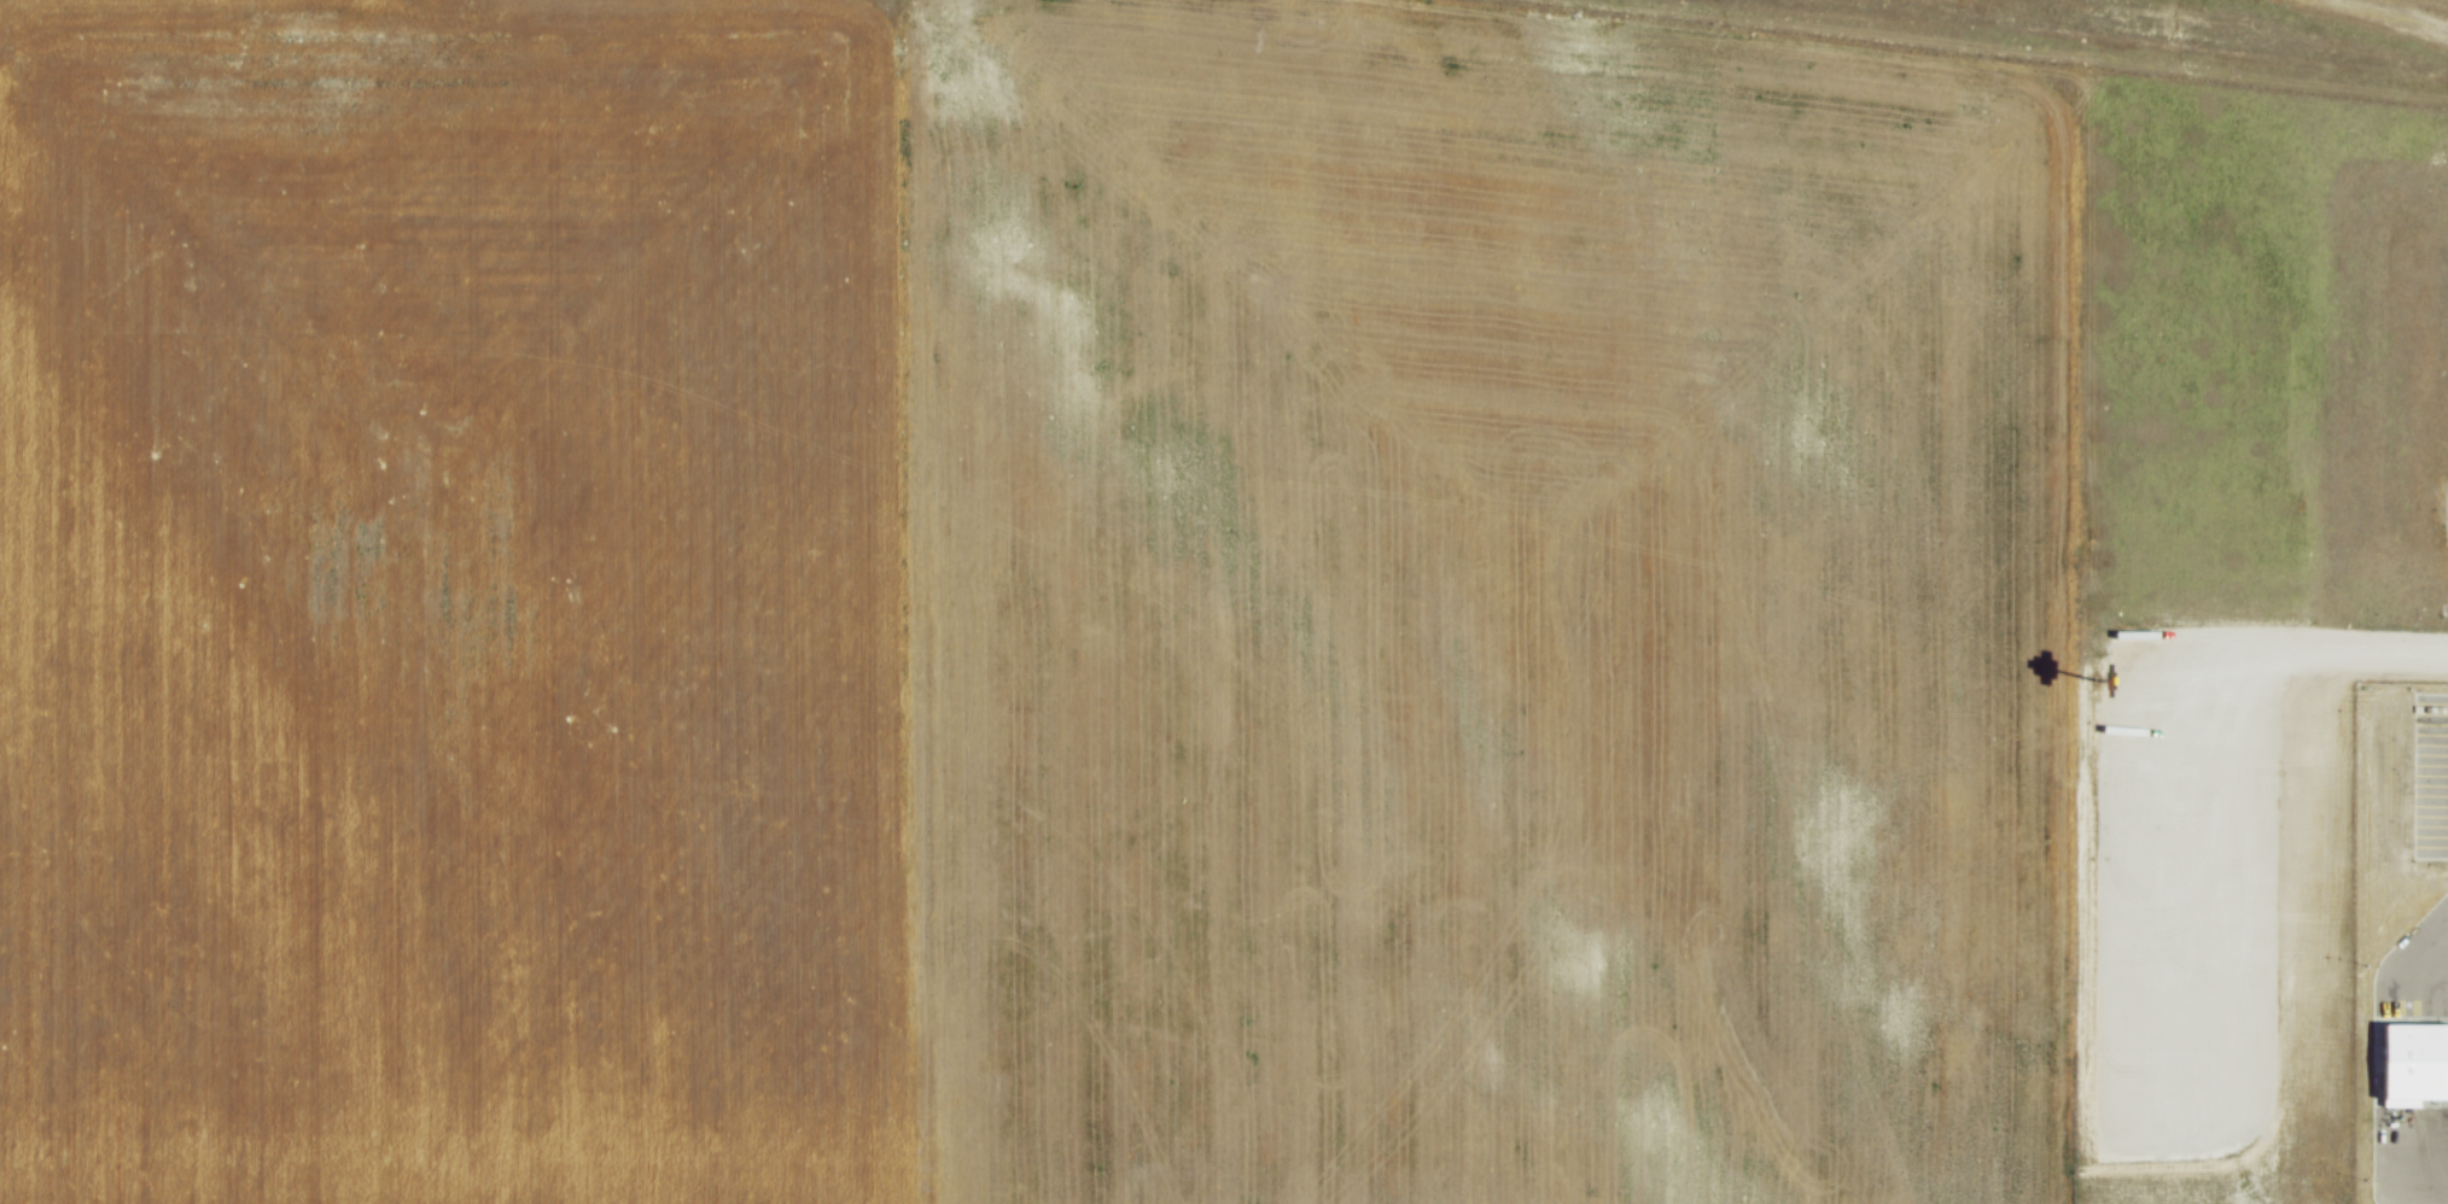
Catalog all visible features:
crop: (1025, 608)

